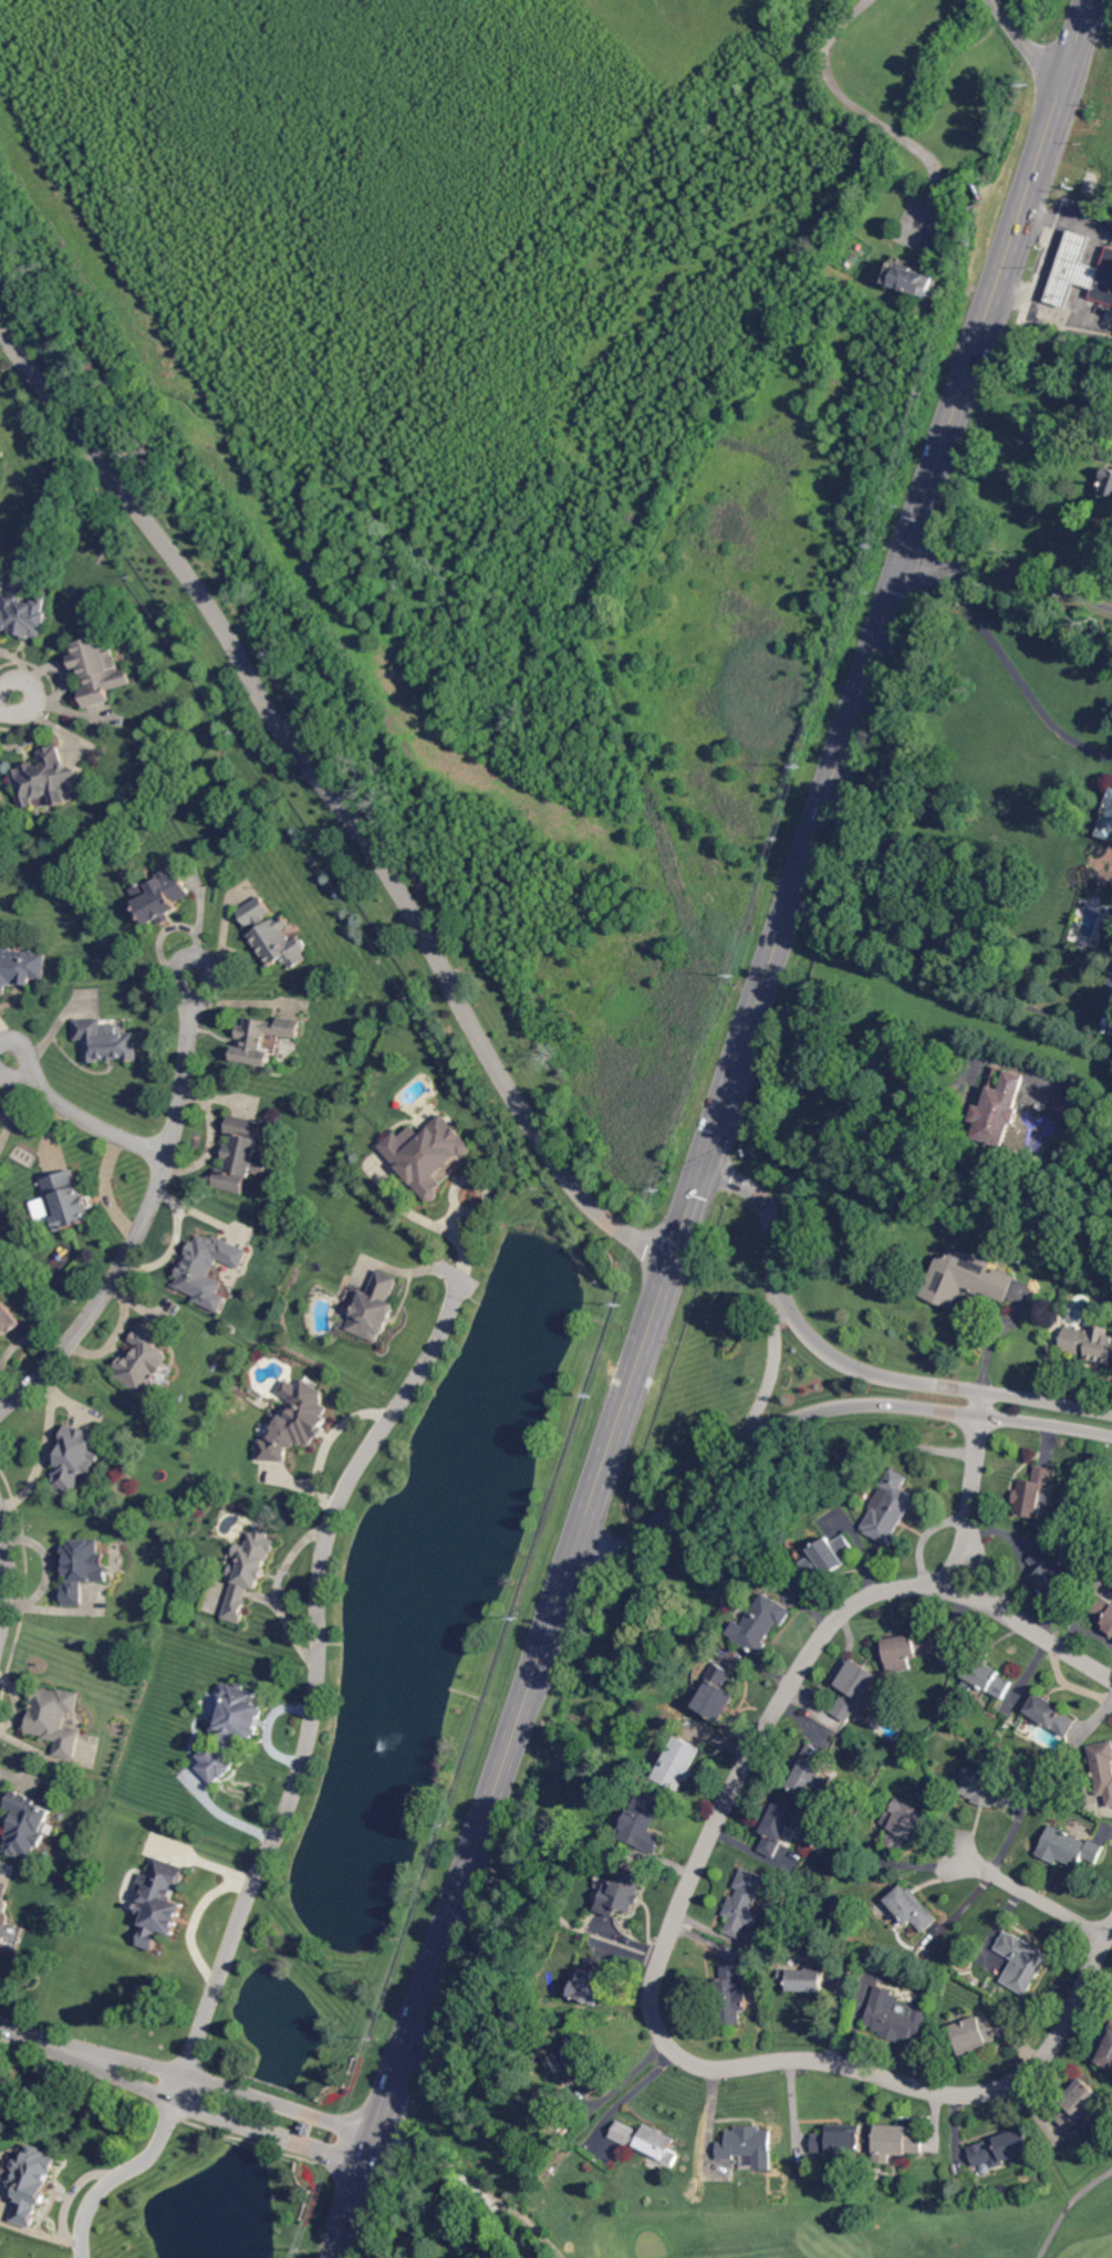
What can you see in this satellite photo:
road: (1027, 43)
road: (866, 113)
building: (940, 233)
building: (1080, 273)
building: (915, 281)
road: (1035, 437)
building: (1105, 488)
traffic signals: (907, 562)
road: (1010, 573)
road: (901, 580)
building: (24, 615)
building: (98, 667)
road: (1015, 672)
road: (10, 707)
building: (45, 779)
road: (333, 800)
building: (1108, 824)
building: (162, 897)
building: (273, 935)
building: (21, 968)
building: (262, 1040)
building: (105, 1044)
road: (864, 1082)
building: (1067, 1109)
building: (1000, 1110)
road: (83, 1117)
building: (427, 1154)
building: (241, 1156)
traffic signals: (707, 1159)
building: (69, 1200)
road: (146, 1218)
building: (207, 1270)
building: (967, 1279)
building: (375, 1308)
road: (792, 1310)
building: (8, 1318)
road: (996, 1334)
building: (1090, 1343)
road: (642, 1352)
building: (143, 1361)
road: (772, 1366)
road: (1032, 1395)
road: (963, 1406)
road: (1046, 1419)
building: (298, 1423)
building: (267, 1432)
road: (330, 1440)
road: (747, 1440)
building: (75, 1458)
road: (973, 1491)
building: (1033, 1492)
building: (893, 1507)
building: (830, 1557)
building: (83, 1569)
building: (249, 1571)
road: (8, 1572)
building: (1053, 1573)
building: (1104, 1611)
building: (766, 1622)
building: (907, 1650)
building: (984, 1679)
building: (853, 1690)
building: (718, 1694)
building: (1050, 1715)
building: (55, 1719)
building: (232, 1731)
building: (680, 1765)
building: (1102, 1769)
building: (809, 1770)
road: (299, 1780)
building: (986, 1788)
building: (648, 1821)
building: (904, 1823)
building: (27, 1825)
building: (780, 1827)
building: (1069, 1848)
building: (624, 1892)
road: (1037, 1897)
building: (744, 1901)
building: (159, 1902)
road: (458, 1902)
building: (4, 1904)
building: (912, 1907)
road: (672, 1934)
building: (1023, 1960)
building: (803, 1979)
building: (593, 1984)
building: (732, 1995)
park: (911, 1998)
building: (895, 2016)
building: (973, 2033)
building: (1106, 2050)
building: (582, 2063)
road: (187, 2089)
building: (1082, 2104)
building: (558, 2120)
building: (840, 2139)
building: (897, 2142)
building: (648, 2143)
building: (748, 2147)
building: (1002, 2148)
road: (465, 2182)
building: (32, 2183)
road: (1066, 2205)
road: (529, 2227)

